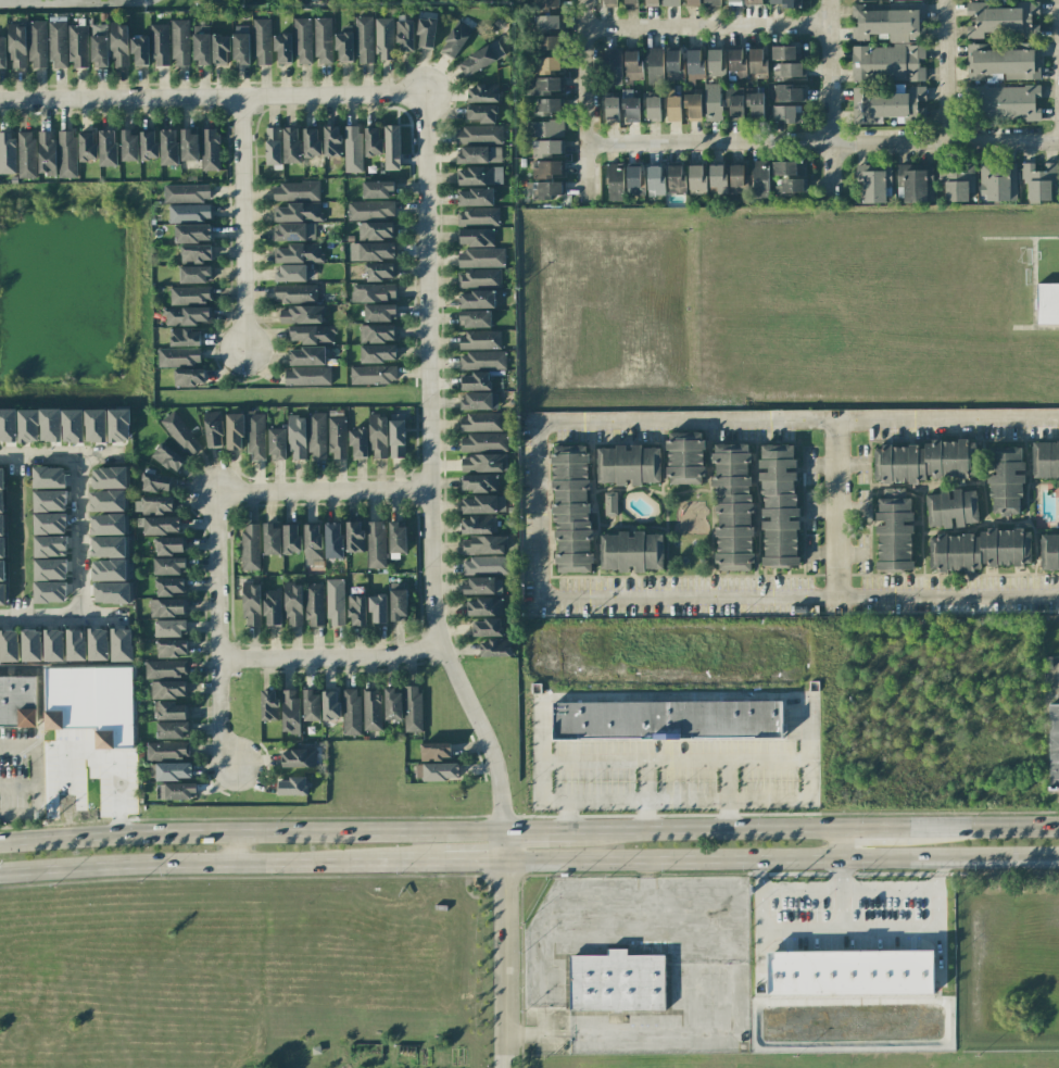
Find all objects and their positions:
road: (72, 0)
building: (669, 0)
building: (693, 1)
building: (753, 1)
building: (608, 2)
building: (629, 2)
building: (650, 2)
building: (731, 2)
building: (787, 2)
building: (710, 3)
building: (546, 4)
building: (1003, 20)
building: (547, 22)
building: (887, 22)
building: (497, 24)
road: (705, 26)
building: (200, 29)
building: (426, 32)
building: (404, 35)
building: (383, 37)
building: (364, 38)
building: (324, 39)
building: (455, 39)
building: (262, 40)
building: (303, 40)
building: (179, 42)
building: (547, 42)
building: (37, 43)
building: (56, 43)
building: (118, 45)
building: (159, 45)
building: (343, 45)
building: (16, 46)
building: (77, 46)
building: (99, 46)
building: (240, 47)
building: (282, 47)
building: (201, 49)
building: (219, 49)
building: (139, 50)
building: (2, 52)
building: (783, 52)
building: (480, 58)
building: (1003, 61)
building: (715, 62)
building: (736, 62)
building: (757, 62)
building: (673, 64)
building: (695, 64)
building: (887, 64)
building: (546, 65)
building: (655, 65)
building: (613, 66)
building: (633, 66)
road: (945, 70)
building: (790, 71)
building: (544, 86)
building: (482, 92)
building: (787, 95)
road: (212, 99)
road: (584, 100)
building: (713, 101)
road: (830, 101)
building: (734, 102)
building: (1001, 102)
building: (755, 104)
building: (692, 105)
building: (887, 105)
building: (547, 106)
building: (612, 106)
building: (630, 106)
building: (653, 106)
building: (673, 106)
building: (481, 113)
building: (784, 114)
building: (545, 129)
building: (478, 134)
building: (332, 140)
building: (373, 140)
building: (312, 141)
road: (822, 141)
building: (291, 143)
building: (148, 145)
building: (87, 146)
building: (128, 146)
building: (189, 146)
building: (273, 146)
building: (168, 147)
building: (391, 147)
building: (106, 148)
building: (353, 148)
building: (546, 148)
building: (210, 149)
building: (7, 152)
building: (46, 152)
building: (26, 154)
building: (66, 154)
building: (479, 154)
building: (546, 168)
building: (786, 168)
building: (479, 175)
building: (718, 175)
building: (736, 175)
building: (634, 178)
building: (676, 178)
building: (656, 179)
building: (696, 179)
building: (759, 179)
building: (1037, 180)
building: (615, 181)
building: (915, 184)
building: (957, 184)
building: (996, 184)
building: (870, 186)
building: (789, 187)
building: (378, 188)
building: (546, 190)
building: (295, 191)
building: (186, 193)
building: (475, 196)
building: (370, 209)
building: (189, 212)
building: (298, 212)
building: (478, 215)
road: (243, 226)
building: (375, 230)
building: (294, 231)
building: (192, 233)
building: (475, 237)
building: (371, 251)
building: (196, 253)
building: (299, 253)
building: (481, 257)
building: (379, 272)
building: (294, 273)
building: (194, 274)
building: (478, 278)
building: (373, 292)
building: (294, 293)
building: (190, 294)
building: (476, 299)
building: (1047, 303)
building: (379, 312)
building: (301, 314)
building: (187, 315)
building: (474, 318)
building: (377, 332)
building: (312, 334)
building: (185, 337)
building: (479, 340)
building: (377, 353)
building: (178, 356)
building: (306, 356)
building: (482, 360)
building: (373, 374)
building: (306, 376)
building: (189, 377)
building: (474, 381)
building: (477, 401)
road: (947, 418)
road: (603, 420)
building: (481, 422)
building: (8, 425)
building: (38, 425)
building: (72, 425)
building: (94, 425)
building: (118, 425)
building: (213, 429)
building: (234, 431)
building: (180, 434)
building: (316, 436)
building: (377, 436)
building: (255, 437)
building: (297, 437)
building: (337, 437)
building: (396, 438)
building: (357, 442)
building: (483, 442)
building: (277, 443)
road: (58, 455)
building: (167, 457)
building: (684, 457)
building: (1045, 460)
building: (922, 461)
building: (481, 463)
building: (627, 465)
road: (428, 470)
building: (48, 477)
building: (109, 477)
building: (1005, 480)
building: (156, 481)
building: (479, 482)
building: (1, 490)
road: (322, 493)
building: (49, 501)
building: (106, 501)
building: (156, 504)
building: (482, 504)
building: (609, 504)
building: (778, 504)
building: (732, 507)
building: (951, 508)
building: (570, 510)
building: (49, 523)
building: (108, 524)
building: (478, 524)
building: (1, 525)
building: (159, 525)
building: (893, 530)
building: (354, 536)
road: (77, 537)
building: (290, 538)
building: (396, 538)
building: (270, 539)
building: (332, 540)
building: (312, 544)
building: (375, 544)
building: (483, 544)
building: (49, 545)
building: (168, 545)
building: (108, 546)
building: (250, 546)
building: (1, 548)
building: (980, 550)
building: (630, 551)
building: (1049, 552)
building: (168, 565)
building: (486, 565)
building: (49, 569)
building: (1, 570)
building: (109, 570)
building: (169, 586)
building: (479, 586)
building: (49, 592)
building: (112, 592)
building: (2, 593)
road: (774, 594)
road: (853, 595)
road: (965, 596)
building: (335, 602)
building: (251, 604)
building: (292, 604)
building: (313, 604)
building: (398, 605)
building: (483, 606)
building: (167, 607)
building: (272, 607)
building: (378, 608)
building: (356, 610)
road: (62, 618)
building: (487, 627)
building: (169, 628)
road: (218, 633)
building: (53, 644)
building: (75, 644)
building: (97, 644)
building: (121, 644)
building: (9, 645)
building: (30, 645)
building: (172, 648)
building: (494, 648)
road: (329, 661)
building: (165, 668)
building: (167, 689)
building: (17, 702)
building: (91, 703)
building: (329, 704)
building: (392, 704)
building: (268, 705)
building: (311, 705)
building: (370, 708)
building: (412, 708)
building: (171, 711)
building: (290, 711)
building: (351, 712)
building: (667, 719)
building: (172, 729)
building: (1054, 745)
building: (167, 750)
building: (434, 751)
building: (298, 758)
road: (33, 766)
building: (173, 770)
building: (440, 771)
building: (292, 787)
building: (177, 791)
road: (646, 802)
road: (643, 817)
road: (817, 830)
road: (538, 832)
road: (250, 833)
road: (840, 844)
road: (232, 849)
road: (780, 859)
road: (471, 862)
road: (220, 864)
road: (937, 871)
road: (761, 872)
road: (888, 889)
road: (815, 890)
road: (504, 950)
building: (850, 972)
crop: (243, 975)
building: (617, 982)
road: (726, 992)
road: (526, 1033)

